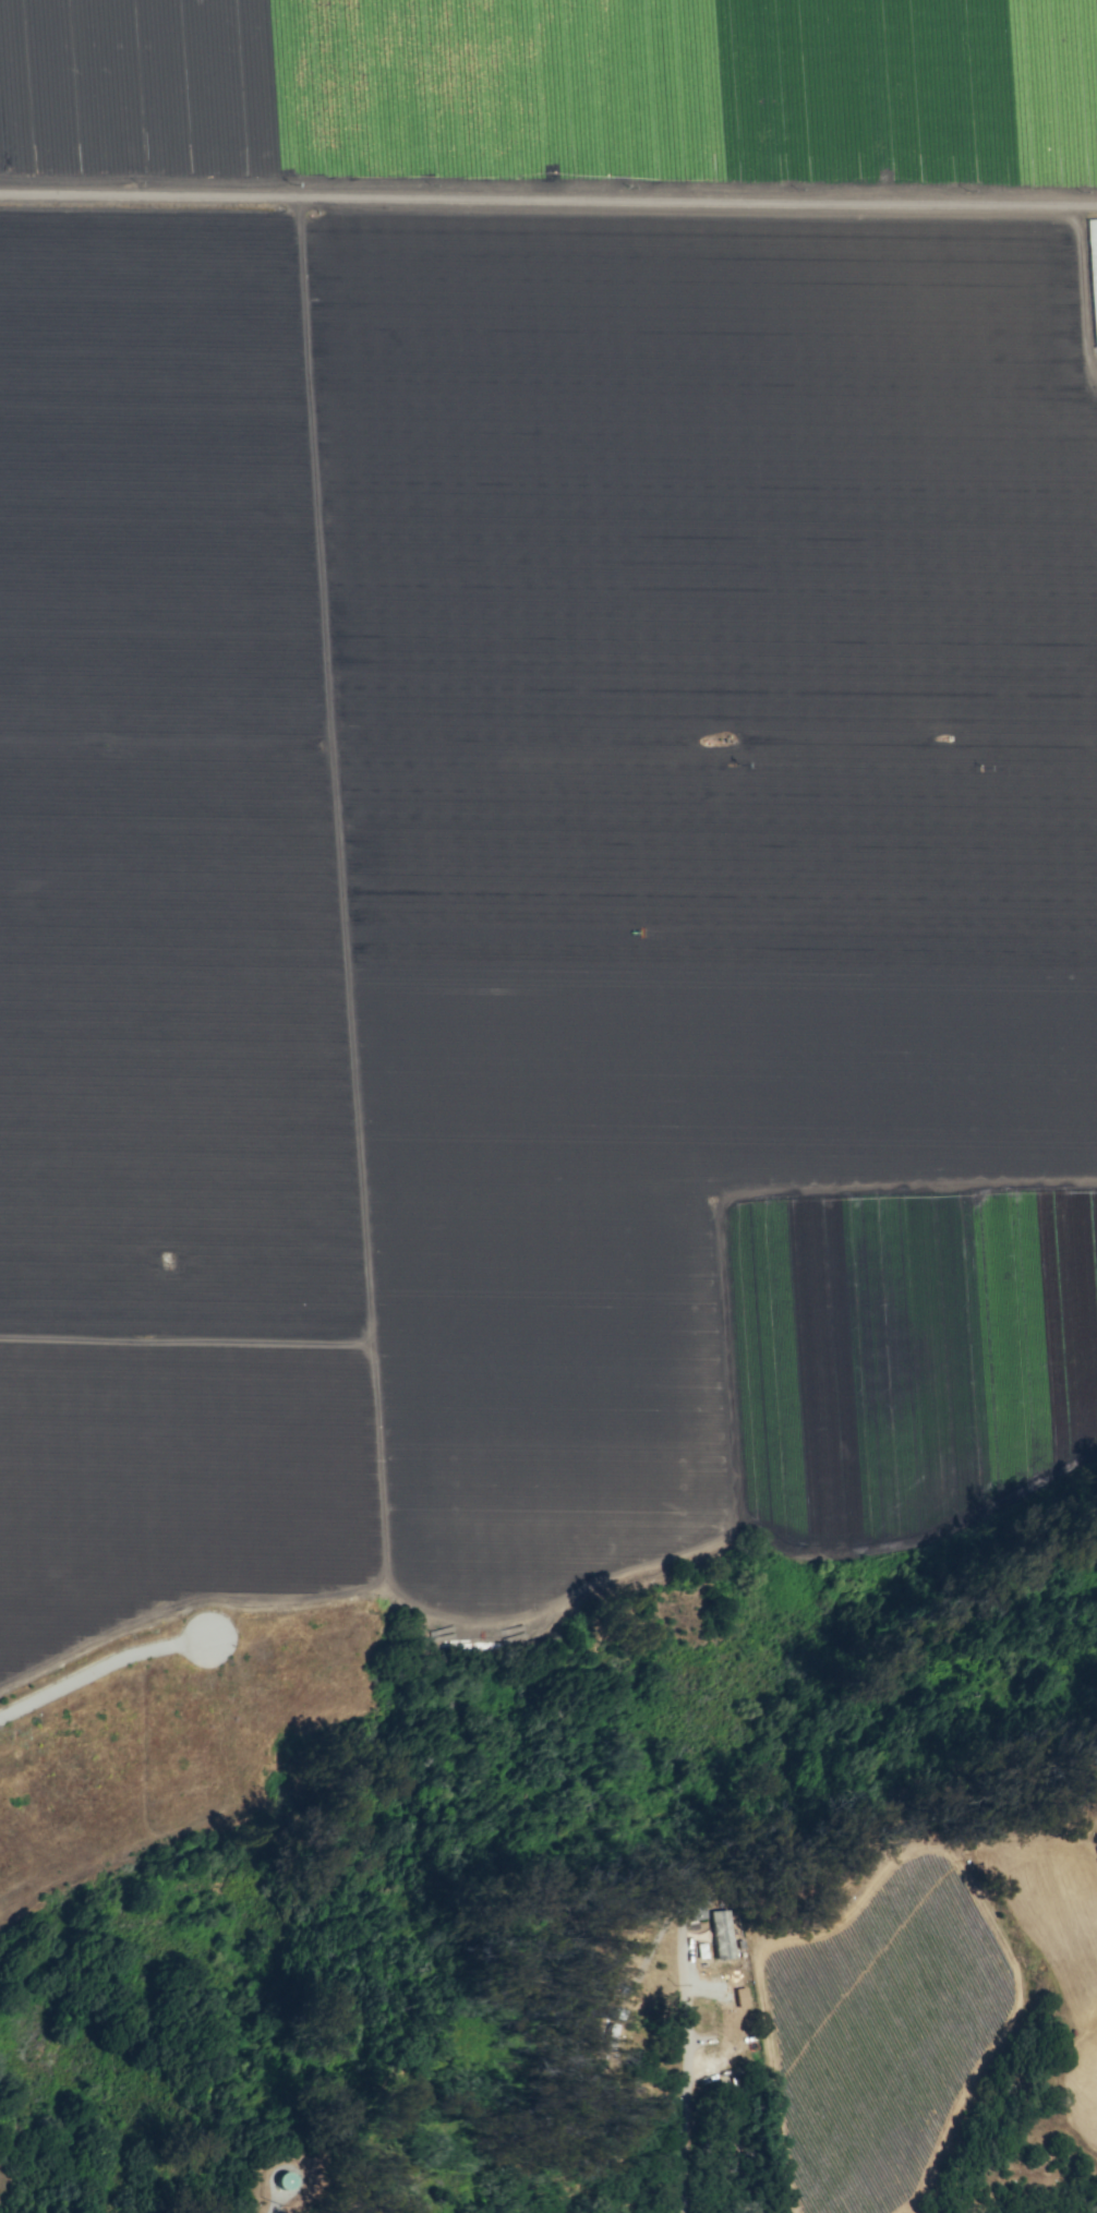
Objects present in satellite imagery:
road: (548, 202)
crop: (541, 798)
road: (106, 1673)
building: (695, 1908)
building: (721, 1934)
crop: (921, 2005)
road: (686, 2062)
building: (282, 2180)
road: (278, 2208)

